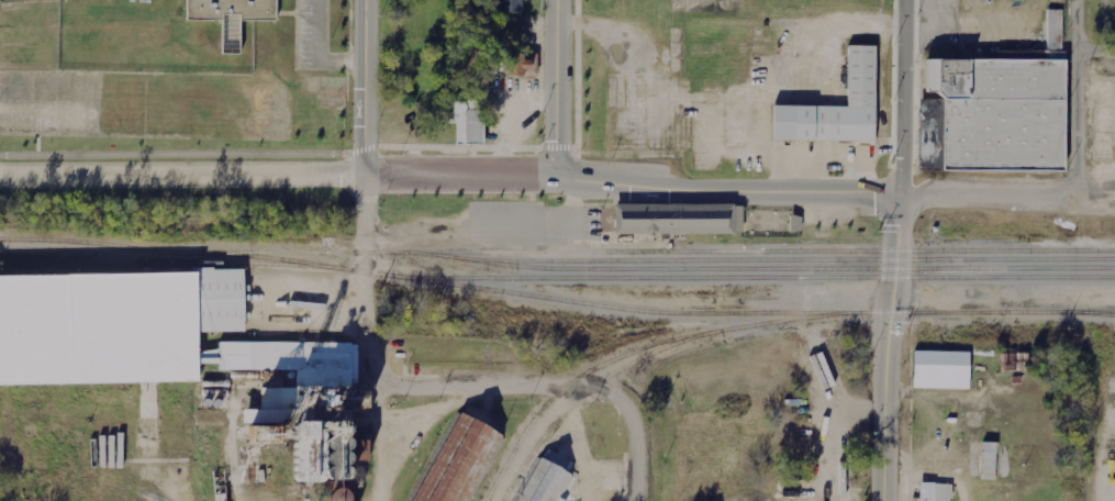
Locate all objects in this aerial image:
building: (514, 5)
building: (224, 18)
road: (1106, 34)
building: (1055, 35)
road: (1097, 55)
building: (523, 65)
road: (555, 87)
road: (364, 88)
road: (1079, 88)
road: (902, 99)
building: (834, 109)
building: (993, 116)
building: (469, 123)
road: (532, 146)
road: (170, 154)
road: (182, 176)
road: (459, 176)
road: (727, 191)
road: (994, 199)
building: (673, 219)
railway: (770, 241)
railway: (107, 244)
railway: (758, 250)
railway: (272, 257)
railway: (788, 259)
railway: (2, 261)
railway: (168, 261)
railway: (664, 268)
railway: (723, 277)
railway: (626, 308)
railway: (1099, 313)
railway: (763, 322)
road: (890, 348)
building: (181, 352)
road: (371, 355)
building: (941, 369)
railway: (586, 393)
road: (625, 407)
building: (989, 460)
building: (461, 461)
building: (544, 482)
building: (935, 491)
building: (337, 494)

